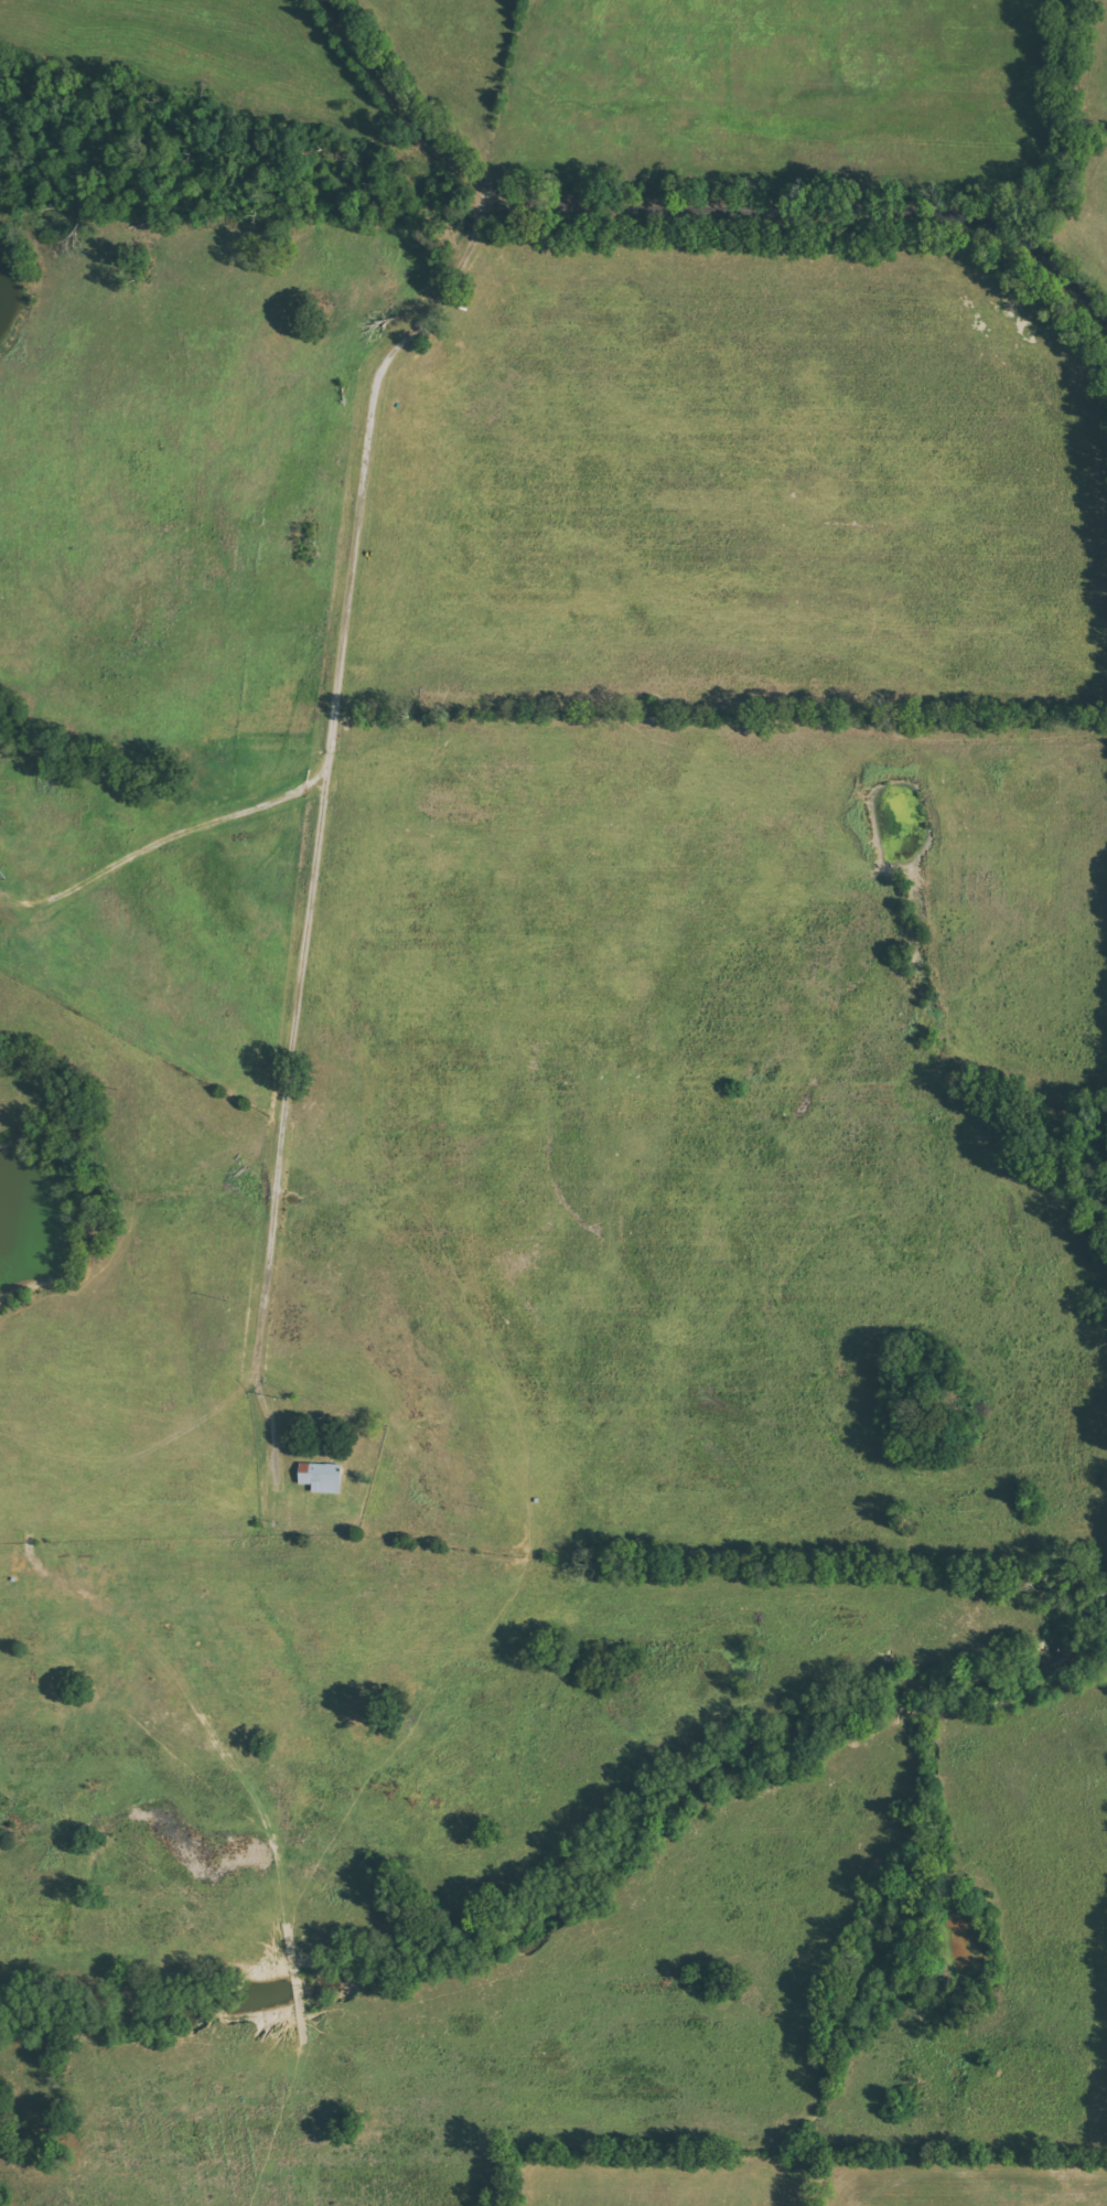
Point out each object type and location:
road: (691, 207)
road: (340, 636)
road: (278, 1123)
building: (321, 1476)

